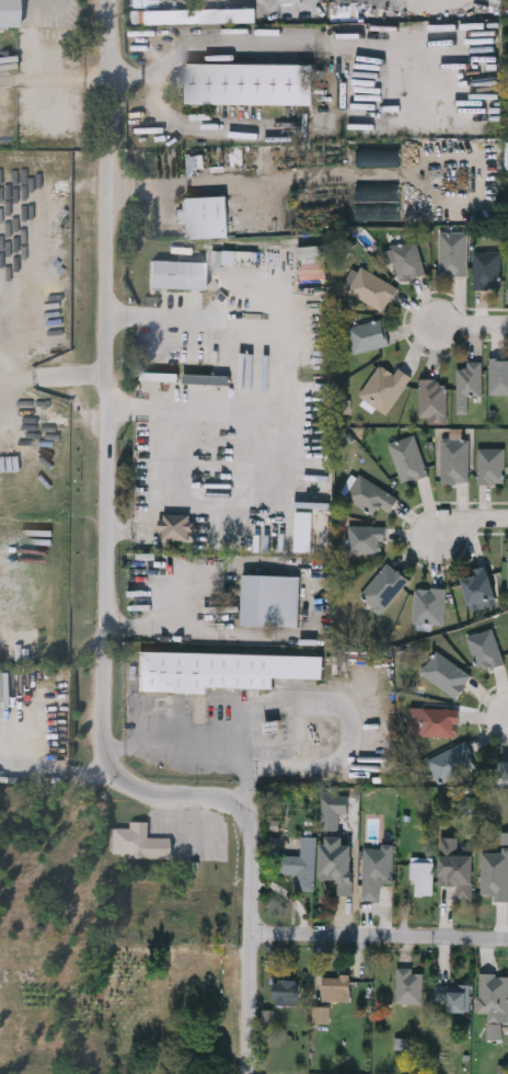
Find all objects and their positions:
building: (289, 1)
road: (293, 11)
building: (9, 14)
building: (197, 15)
road: (208, 48)
building: (250, 83)
road: (55, 88)
road: (199, 184)
building: (379, 194)
building: (206, 218)
building: (453, 253)
building: (407, 260)
building: (487, 271)
building: (178, 275)
building: (372, 288)
road: (471, 327)
building: (369, 336)
road: (288, 364)
road: (51, 377)
building: (499, 377)
building: (469, 385)
building: (385, 388)
building: (434, 398)
building: (154, 452)
building: (457, 456)
building: (408, 458)
building: (492, 466)
road: (155, 490)
building: (371, 495)
building: (43, 510)
road: (470, 521)
building: (176, 528)
building: (367, 539)
road: (102, 584)
building: (385, 587)
building: (481, 587)
building: (270, 601)
building: (429, 605)
road: (230, 636)
building: (487, 650)
building: (221, 671)
building: (447, 674)
building: (12, 689)
road: (507, 717)
building: (442, 722)
road: (205, 749)
building: (453, 762)
road: (54, 764)
building: (504, 770)
building: (332, 815)
building: (147, 846)
building: (338, 862)
building: (303, 865)
building: (458, 868)
building: (423, 877)
road: (376, 940)
building: (409, 986)
building: (337, 987)
building: (287, 992)
building: (454, 996)
building: (494, 996)
building: (322, 1015)

